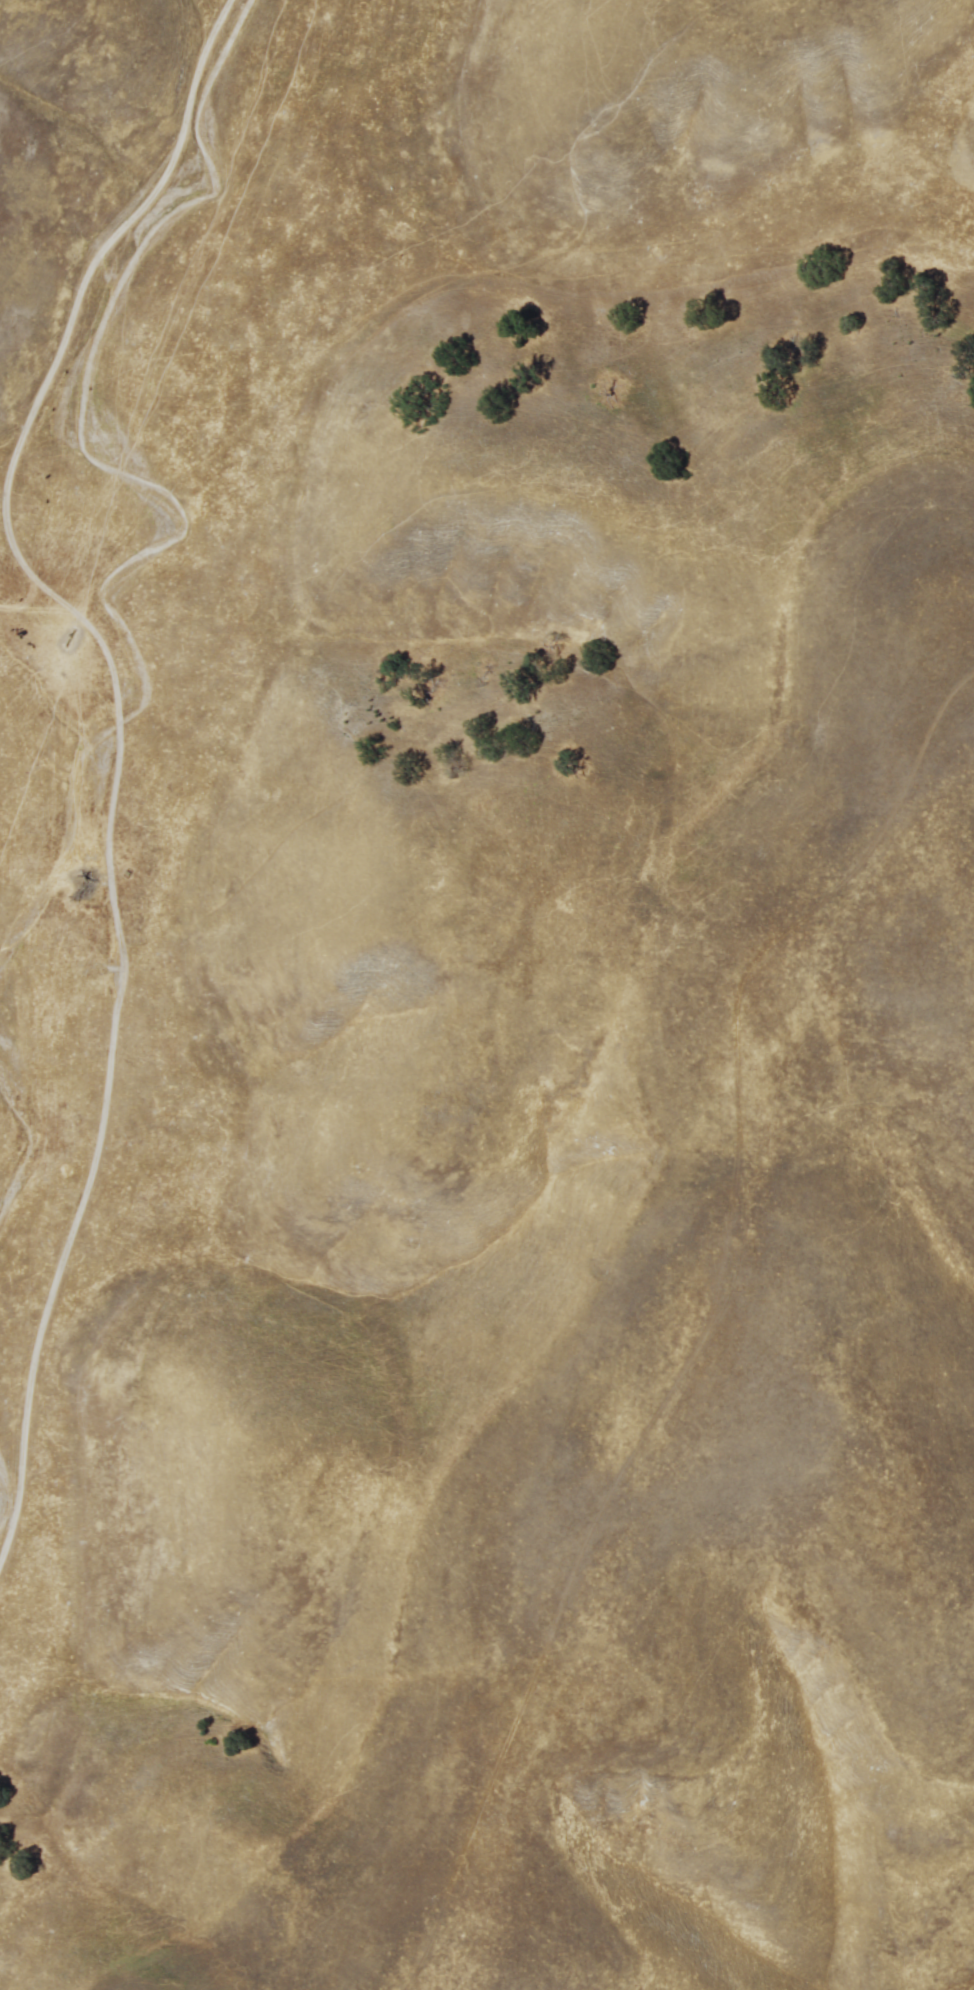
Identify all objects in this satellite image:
road: (33, 404)
road: (43, 609)
road: (87, 1187)

